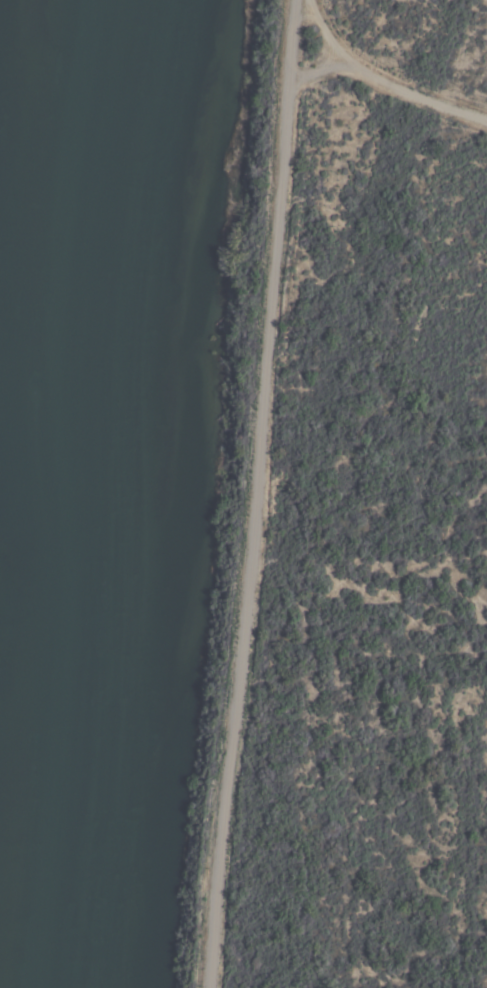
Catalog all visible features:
road: (378, 82)
river: (65, 494)

